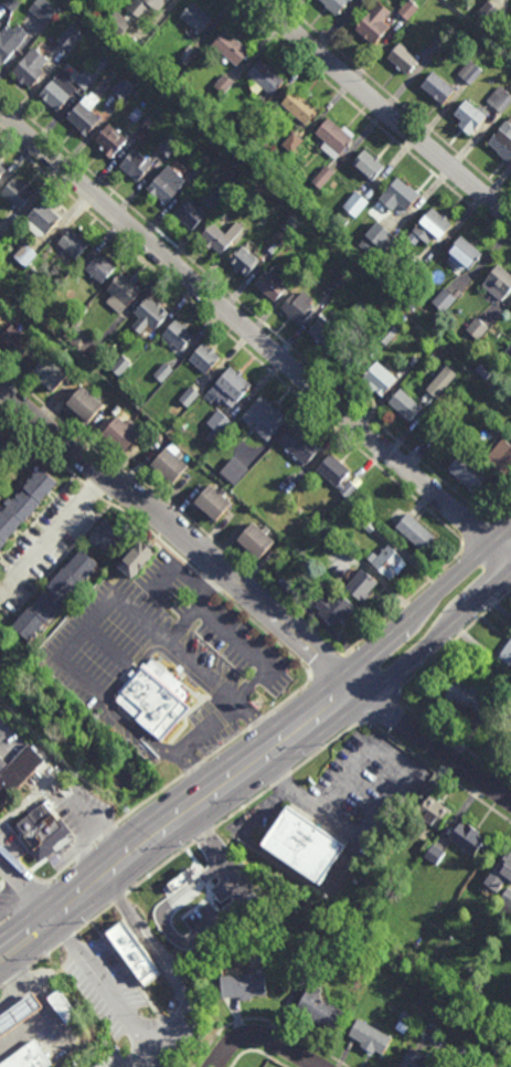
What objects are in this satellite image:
building: (11, 3)
building: (336, 4)
building: (43, 9)
building: (407, 9)
building: (483, 12)
building: (138, 13)
building: (194, 21)
building: (373, 24)
building: (71, 38)
building: (10, 42)
building: (436, 44)
building: (230, 50)
building: (62, 54)
building: (188, 54)
building: (402, 60)
building: (30, 70)
building: (469, 71)
building: (91, 73)
building: (266, 80)
building: (224, 84)
building: (510, 87)
building: (123, 88)
building: (435, 89)
building: (58, 92)
building: (500, 98)
road: (394, 99)
building: (298, 109)
road: (383, 109)
building: (84, 116)
building: (256, 118)
road: (371, 119)
building: (469, 119)
building: (143, 125)
building: (334, 141)
building: (111, 142)
building: (292, 142)
building: (169, 146)
building: (501, 147)
building: (206, 160)
building: (366, 167)
building: (134, 168)
building: (1, 172)
building: (194, 173)
building: (322, 177)
building: (256, 182)
building: (167, 188)
building: (15, 194)
building: (221, 196)
building: (398, 198)
building: (355, 204)
building: (189, 214)
building: (42, 218)
building: (430, 229)
building: (323, 230)
building: (377, 233)
building: (278, 234)
building: (0, 236)
building: (221, 240)
building: (72, 244)
building: (366, 245)
building: (24, 256)
building: (462, 257)
building: (242, 262)
building: (36, 267)
building: (99, 267)
building: (413, 272)
building: (269, 283)
building: (336, 285)
building: (497, 285)
building: (120, 293)
building: (445, 297)
road: (246, 308)
building: (510, 309)
building: (298, 310)
building: (358, 311)
building: (148, 316)
building: (64, 326)
building: (476, 328)
building: (323, 335)
building: (387, 335)
building: (74, 336)
building: (177, 336)
road: (255, 336)
road: (235, 340)
building: (14, 344)
building: (508, 352)
building: (348, 357)
building: (204, 360)
building: (412, 361)
building: (120, 366)
building: (162, 372)
building: (50, 374)
building: (375, 380)
building: (441, 382)
building: (228, 387)
building: (507, 391)
building: (190, 397)
building: (404, 405)
building: (84, 406)
building: (263, 419)
building: (217, 426)
building: (491, 429)
building: (509, 431)
building: (120, 436)
building: (1, 439)
road: (41, 445)
building: (298, 445)
building: (500, 459)
building: (170, 467)
building: (233, 472)
building: (465, 473)
building: (336, 477)
building: (289, 484)
road: (92, 488)
building: (212, 500)
building: (21, 503)
road: (174, 506)
road: (504, 514)
road: (510, 514)
road: (39, 518)
building: (369, 522)
building: (107, 531)
road: (152, 532)
building: (414, 532)
road: (478, 533)
road: (55, 537)
building: (256, 538)
road: (185, 539)
building: (136, 556)
road: (61, 561)
building: (386, 563)
road: (177, 568)
road: (482, 573)
road: (210, 583)
building: (361, 584)
building: (285, 585)
building: (54, 592)
road: (403, 604)
building: (333, 610)
road: (268, 634)
road: (456, 638)
road: (109, 649)
building: (505, 652)
road: (150, 655)
road: (382, 663)
road: (326, 668)
road: (131, 669)
road: (187, 669)
road: (180, 677)
road: (220, 688)
building: (469, 696)
road: (198, 697)
road: (287, 699)
road: (105, 700)
road: (206, 700)
building: (155, 701)
road: (219, 705)
road: (380, 706)
road: (257, 723)
road: (262, 736)
road: (449, 738)
road: (283, 741)
road: (402, 743)
road: (227, 744)
road: (439, 749)
road: (168, 752)
road: (385, 754)
building: (1, 764)
road: (190, 767)
road: (248, 767)
road: (195, 769)
building: (18, 772)
road: (171, 772)
road: (260, 778)
road: (281, 782)
road: (214, 792)
building: (433, 811)
building: (38, 830)
building: (467, 838)
road: (198, 841)
road: (91, 846)
building: (304, 846)
building: (425, 846)
building: (434, 854)
road: (32, 855)
road: (289, 870)
building: (499, 873)
building: (181, 883)
road: (18, 884)
road: (1, 888)
road: (33, 888)
road: (119, 900)
building: (505, 902)
road: (17, 905)
road: (94, 919)
road: (67, 939)
building: (323, 945)
road: (44, 955)
building: (253, 960)
building: (136, 962)
road: (17, 975)
building: (213, 981)
building: (243, 984)
road: (1, 986)
building: (63, 1006)
building: (321, 1008)
building: (19, 1014)
gas station: (19, 1014)
building: (406, 1016)
road: (169, 1021)
road: (265, 1021)
building: (403, 1026)
building: (370, 1036)
road: (262, 1037)
road: (140, 1047)
road: (256, 1052)
building: (28, 1057)
building: (416, 1060)
road: (134, 1064)

